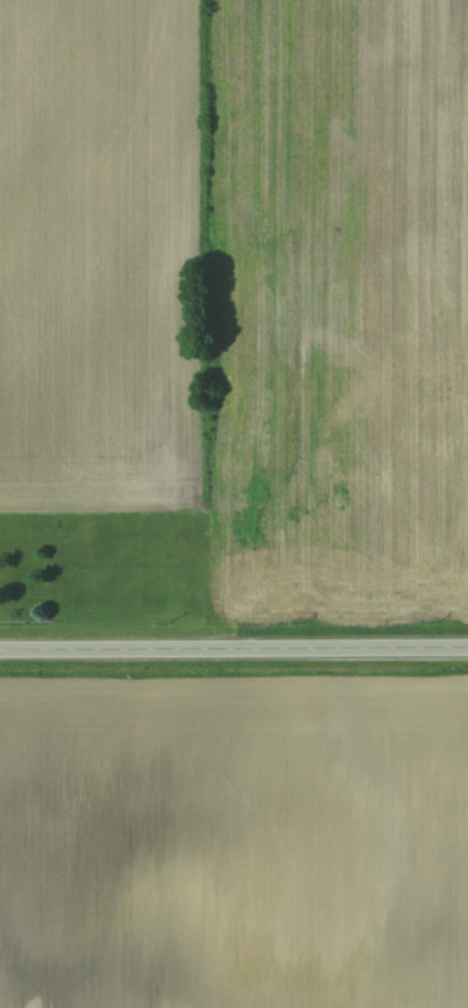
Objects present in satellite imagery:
road: (234, 649)

